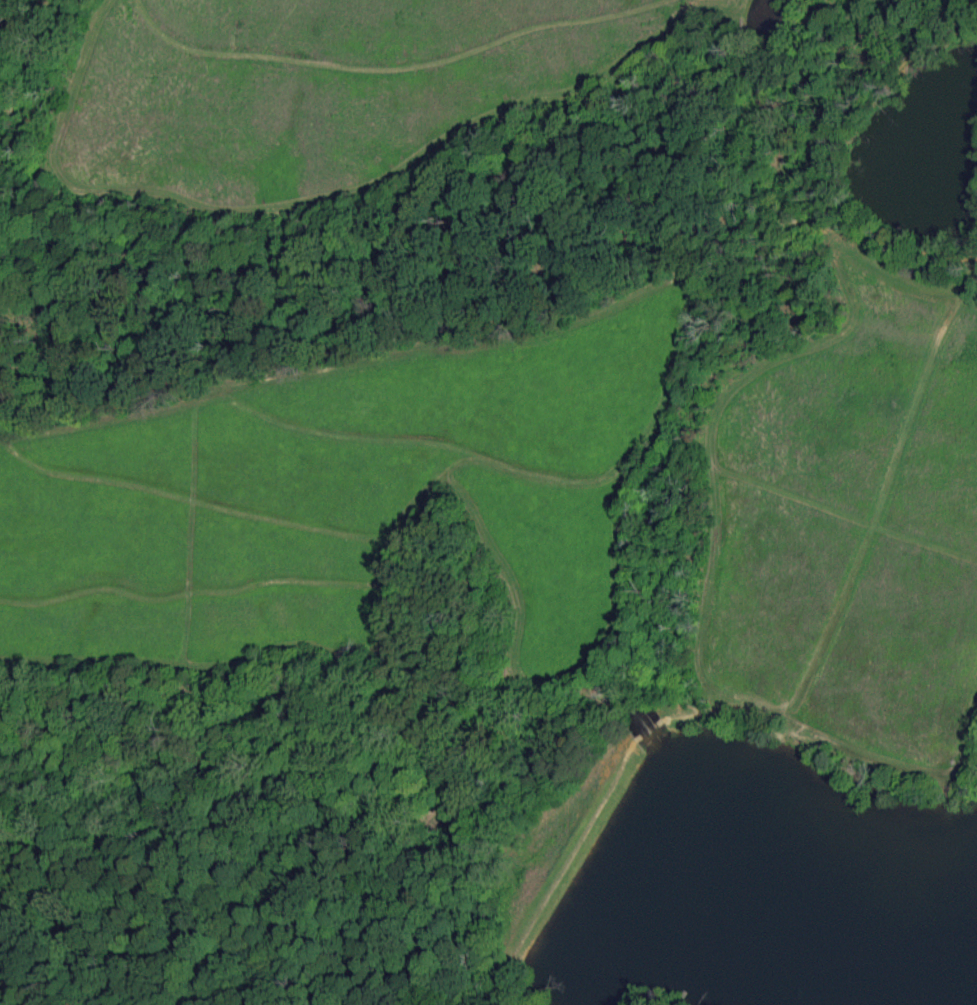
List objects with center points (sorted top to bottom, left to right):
road: (398, 66)
road: (822, 67)
road: (649, 148)
road: (838, 157)
road: (312, 176)
road: (612, 255)
road: (970, 290)
road: (375, 357)
road: (754, 375)
road: (148, 377)
road: (433, 436)
road: (634, 482)
road: (194, 496)
road: (874, 513)
road: (843, 516)
road: (186, 533)
road: (194, 595)
road: (384, 613)
road: (177, 683)
road: (341, 741)
road: (862, 754)
road: (596, 807)
road: (497, 982)
road: (63, 990)

